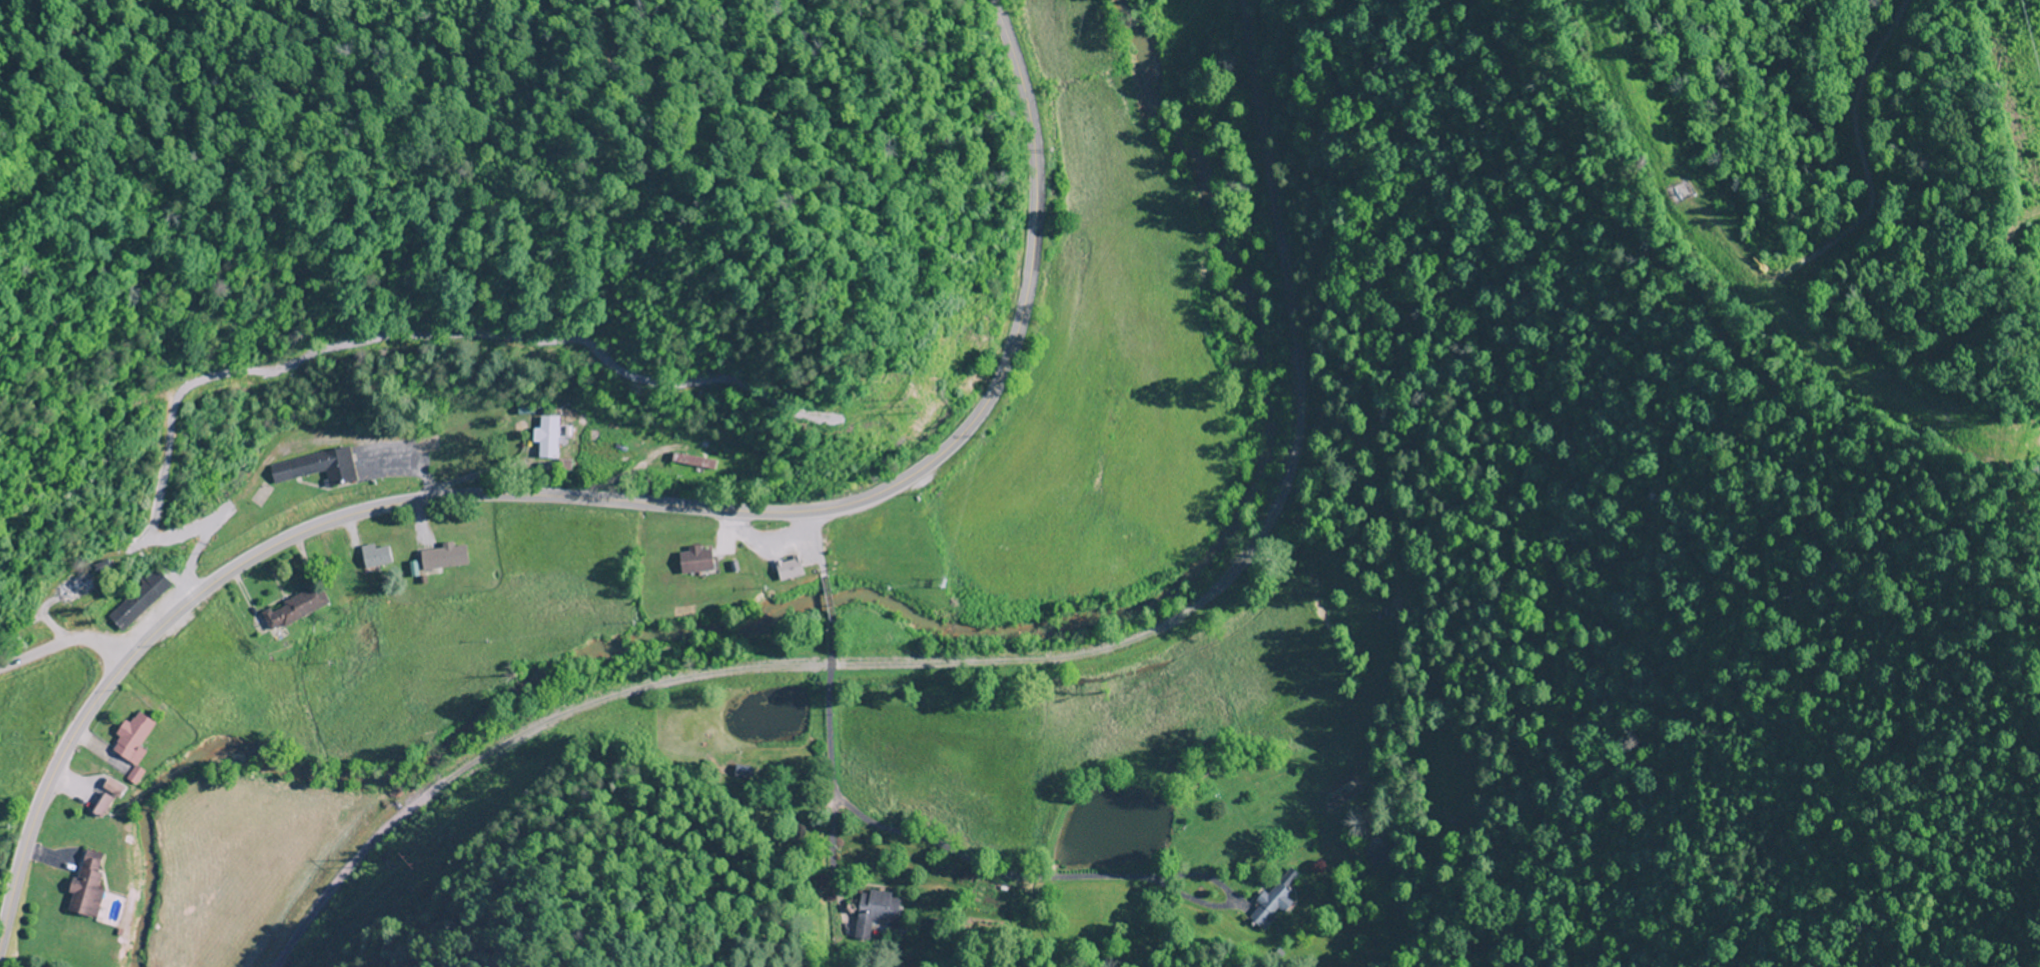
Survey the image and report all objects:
building: (1679, 192)
building: (544, 442)
building: (690, 462)
building: (311, 467)
road: (600, 500)
building: (372, 556)
building: (440, 557)
building: (693, 561)
building: (785, 570)
building: (68, 588)
building: (135, 600)
building: (291, 609)
railway: (1006, 632)
road: (62, 645)
road: (1007, 661)
road: (825, 737)
building: (129, 743)
building: (109, 789)
building: (98, 805)
building: (1378, 858)
building: (83, 887)
building: (1271, 905)
building: (879, 906)

